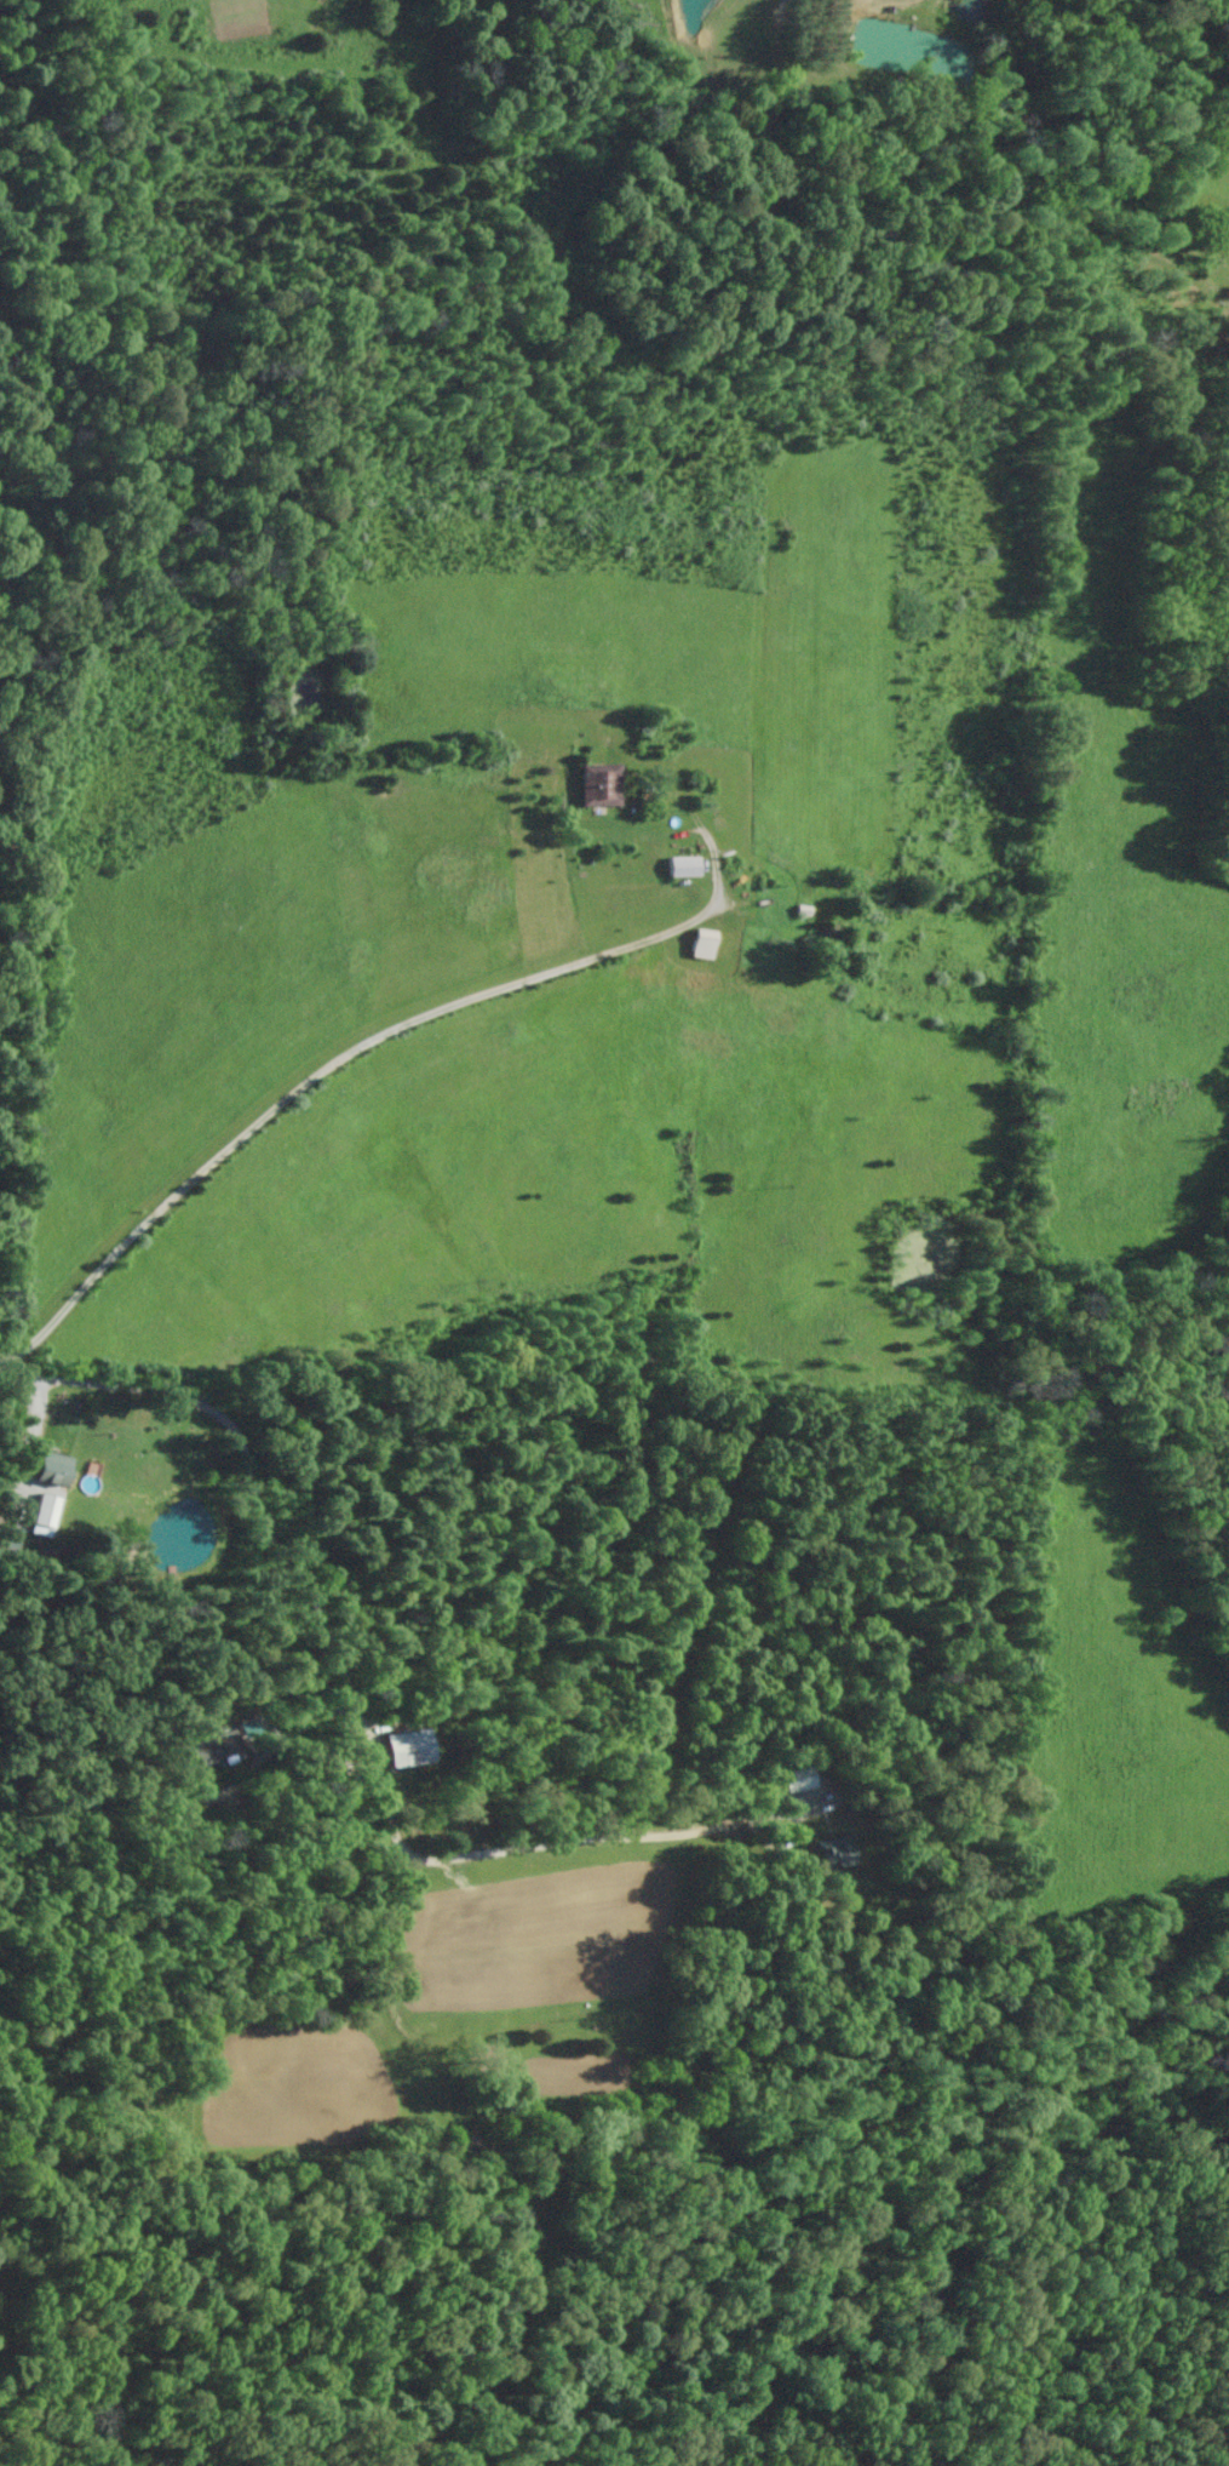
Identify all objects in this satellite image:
road: (1205, 354)
building: (621, 788)
road: (699, 830)
building: (702, 869)
building: (719, 946)
road: (311, 1081)
building: (58, 1469)
building: (45, 1516)
road: (349, 1695)
building: (219, 1747)
building: (410, 1749)
building: (805, 1776)
building: (838, 1852)

